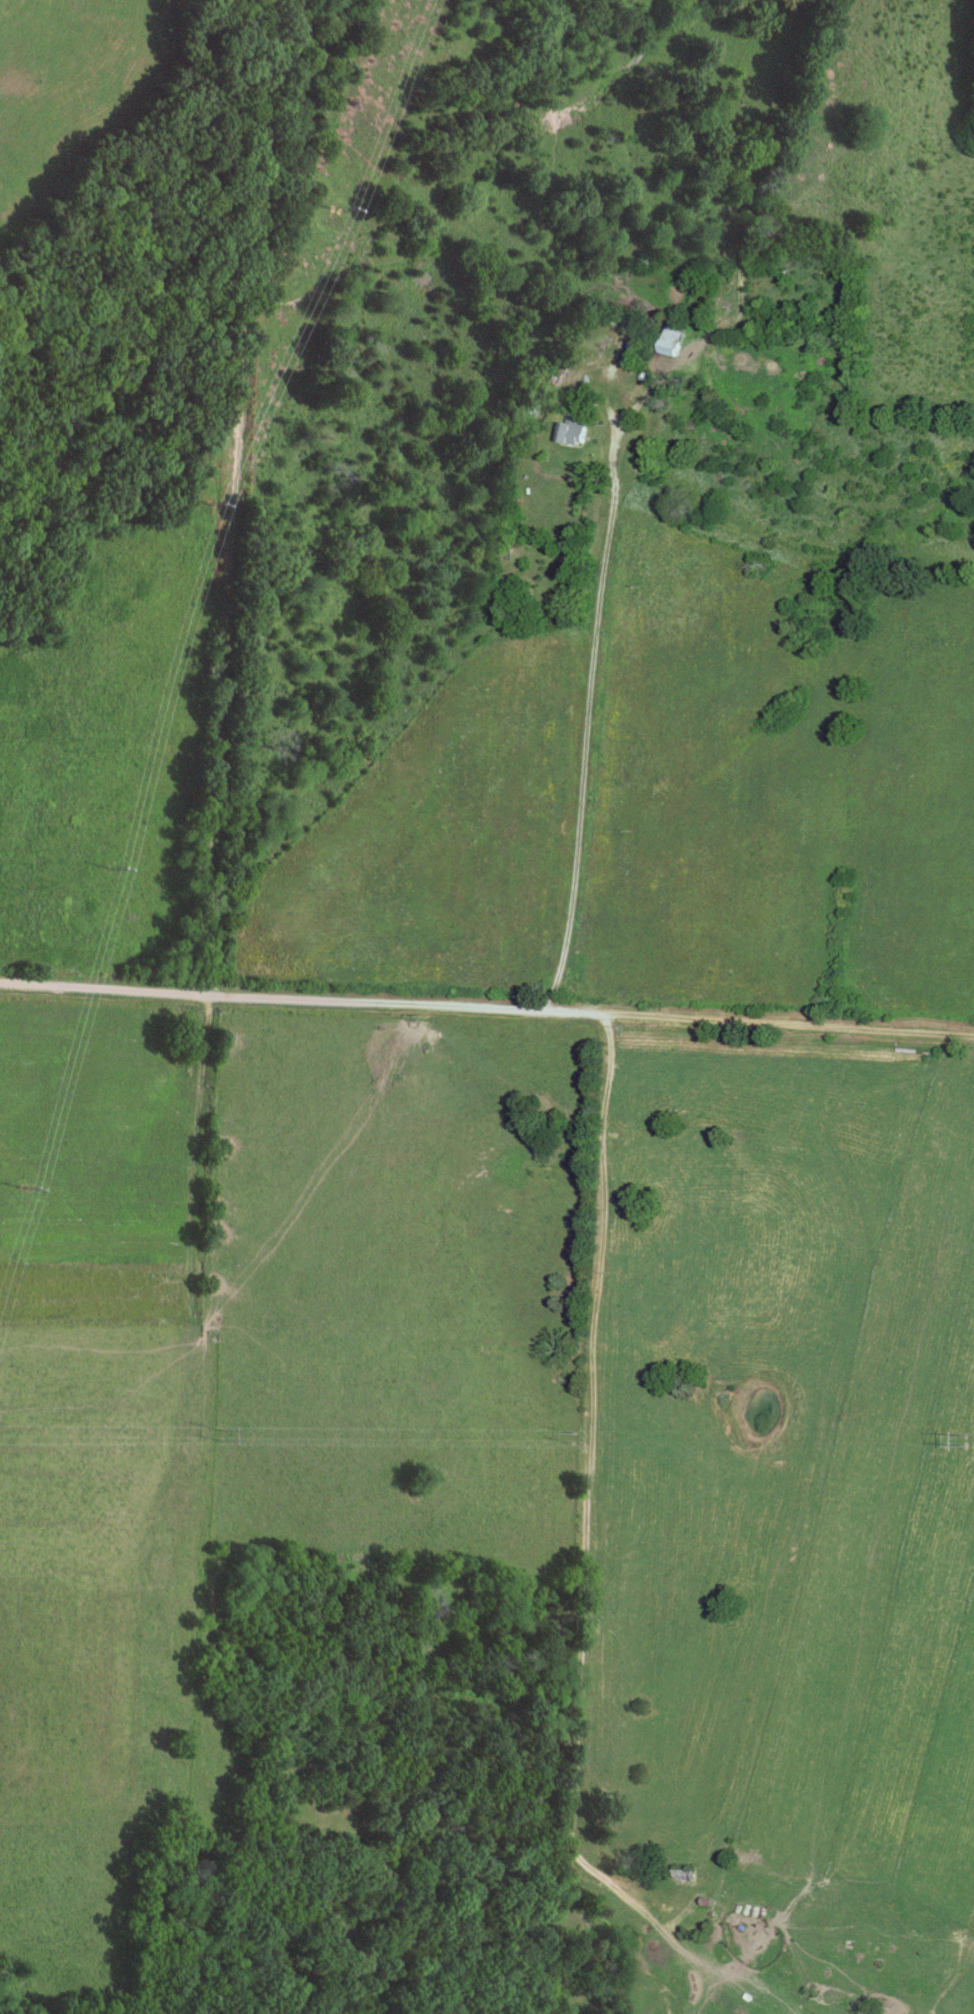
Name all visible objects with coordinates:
building: (648, 258)
building: (623, 281)
building: (680, 339)
building: (528, 408)
building: (573, 430)
road: (236, 497)
road: (590, 658)
road: (486, 1015)
crop: (100, 1404)
road: (585, 1572)
building: (686, 1871)

